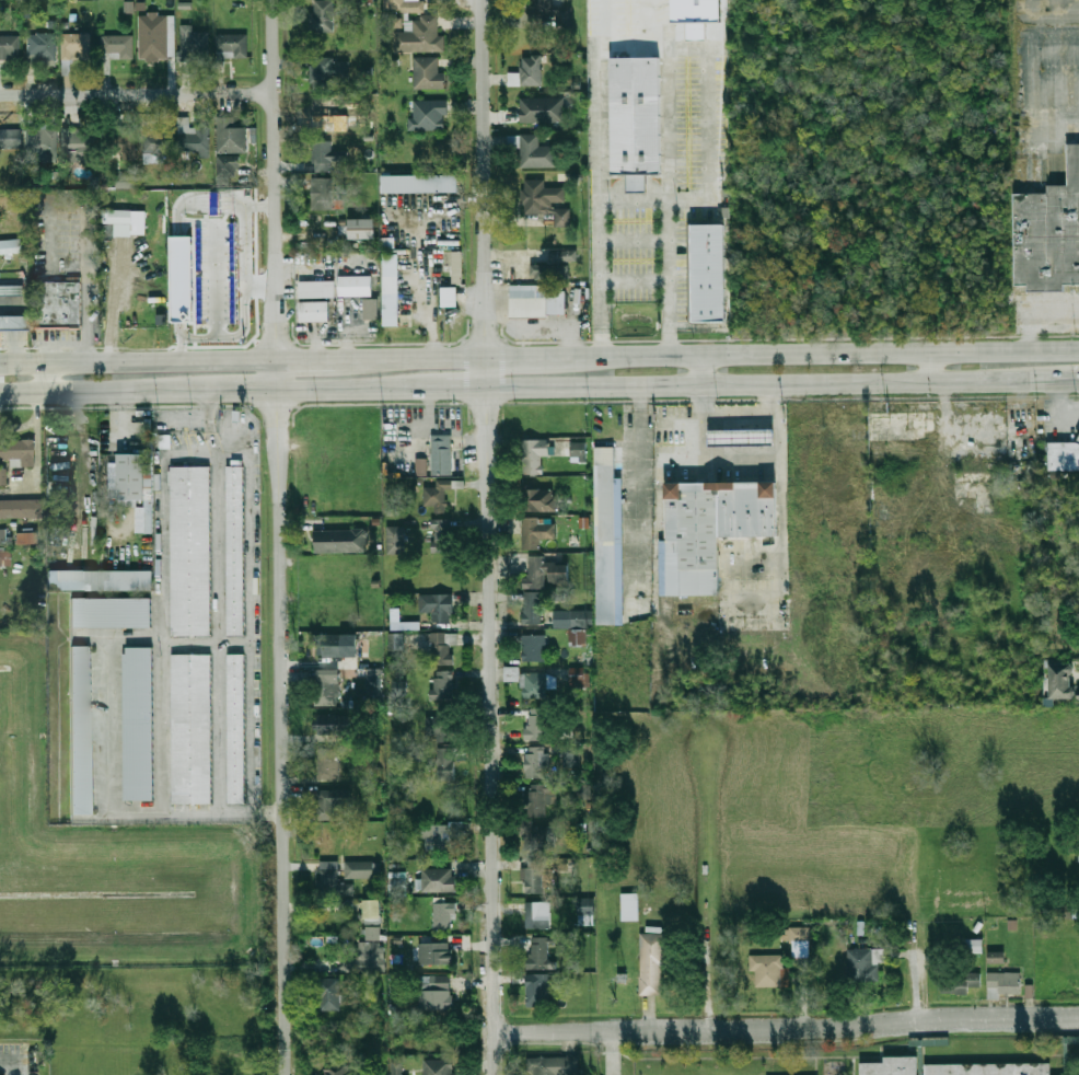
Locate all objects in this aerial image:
building: (404, 5)
building: (558, 12)
building: (323, 15)
building: (695, 15)
building: (153, 36)
building: (419, 36)
building: (232, 45)
building: (117, 46)
building: (195, 46)
building: (10, 47)
building: (42, 47)
building: (74, 48)
building: (527, 72)
building: (327, 73)
building: (428, 73)
road: (135, 93)
building: (542, 109)
building: (635, 114)
building: (429, 115)
building: (230, 136)
building: (193, 138)
building: (10, 139)
building: (124, 142)
building: (43, 143)
building: (156, 143)
building: (79, 145)
building: (534, 151)
building: (326, 158)
building: (229, 166)
building: (635, 181)
building: (124, 182)
building: (420, 183)
building: (322, 195)
road: (633, 197)
building: (545, 201)
building: (119, 215)
building: (343, 226)
building: (1046, 227)
building: (361, 229)
parking lot: (56, 233)
building: (11, 247)
building: (562, 255)
building: (457, 267)
building: (708, 271)
building: (556, 273)
building: (356, 286)
building: (318, 289)
building: (10, 290)
building: (392, 290)
building: (451, 297)
parking lot: (93, 298)
building: (530, 303)
building: (55, 304)
building: (371, 310)
building: (315, 311)
road: (1040, 317)
building: (13, 323)
parking lot: (57, 337)
road: (833, 354)
road: (538, 357)
road: (318, 359)
road: (426, 359)
road: (137, 361)
road: (933, 367)
road: (700, 369)
road: (50, 377)
road: (784, 381)
road: (442, 385)
road: (335, 386)
road: (227, 389)
road: (90, 391)
road: (741, 412)
building: (742, 437)
gas station: (742, 437)
building: (1078, 437)
gas station: (1078, 437)
building: (16, 451)
building: (578, 452)
building: (442, 454)
building: (1063, 454)
building: (533, 455)
road: (721, 456)
building: (420, 466)
building: (131, 475)
building: (2, 478)
building: (437, 496)
building: (538, 500)
building: (20, 509)
building: (144, 513)
road: (490, 513)
building: (712, 528)
building: (536, 531)
road: (277, 536)
building: (27, 537)
building: (4, 539)
building: (394, 540)
building: (610, 540)
building: (340, 541)
building: (441, 545)
road: (781, 548)
building: (190, 550)
building: (235, 550)
building: (5, 558)
building: (535, 571)
building: (557, 573)
building: (101, 580)
building: (438, 606)
building: (533, 608)
building: (112, 615)
building: (572, 619)
building: (577, 637)
building: (395, 641)
building: (336, 645)
building: (442, 647)
building: (533, 648)
building: (578, 678)
building: (1061, 682)
building: (537, 684)
building: (374, 685)
building: (327, 686)
building: (398, 686)
building: (443, 686)
building: (1078, 694)
building: (334, 724)
building: (441, 725)
building: (139, 726)
building: (536, 727)
building: (236, 728)
building: (192, 729)
building: (82, 730)
building: (570, 755)
building: (536, 763)
building: (328, 764)
building: (445, 764)
building: (580, 791)
building: (538, 798)
building: (330, 802)
building: (443, 837)
building: (538, 837)
building: (361, 869)
road: (704, 875)
building: (534, 877)
building: (547, 877)
building: (332, 880)
building: (438, 880)
building: (629, 906)
building: (585, 911)
building: (372, 912)
building: (1063, 912)
building: (442, 915)
building: (537, 915)
road: (916, 929)
building: (797, 935)
building: (974, 946)
building: (369, 952)
building: (541, 952)
building: (434, 955)
building: (996, 958)
building: (651, 963)
building: (863, 964)
building: (766, 970)
building: (960, 982)
building: (1005, 984)
building: (538, 990)
building: (328, 994)
building: (437, 995)
road: (788, 1025)
building: (1071, 1039)
road: (498, 1051)
road: (614, 1051)
road: (16, 1060)
parking lot: (19, 1060)
building: (553, 1065)
building: (890, 1066)
building: (396, 1067)
building: (440, 1067)
building: (987, 1068)
building: (340, 1071)

